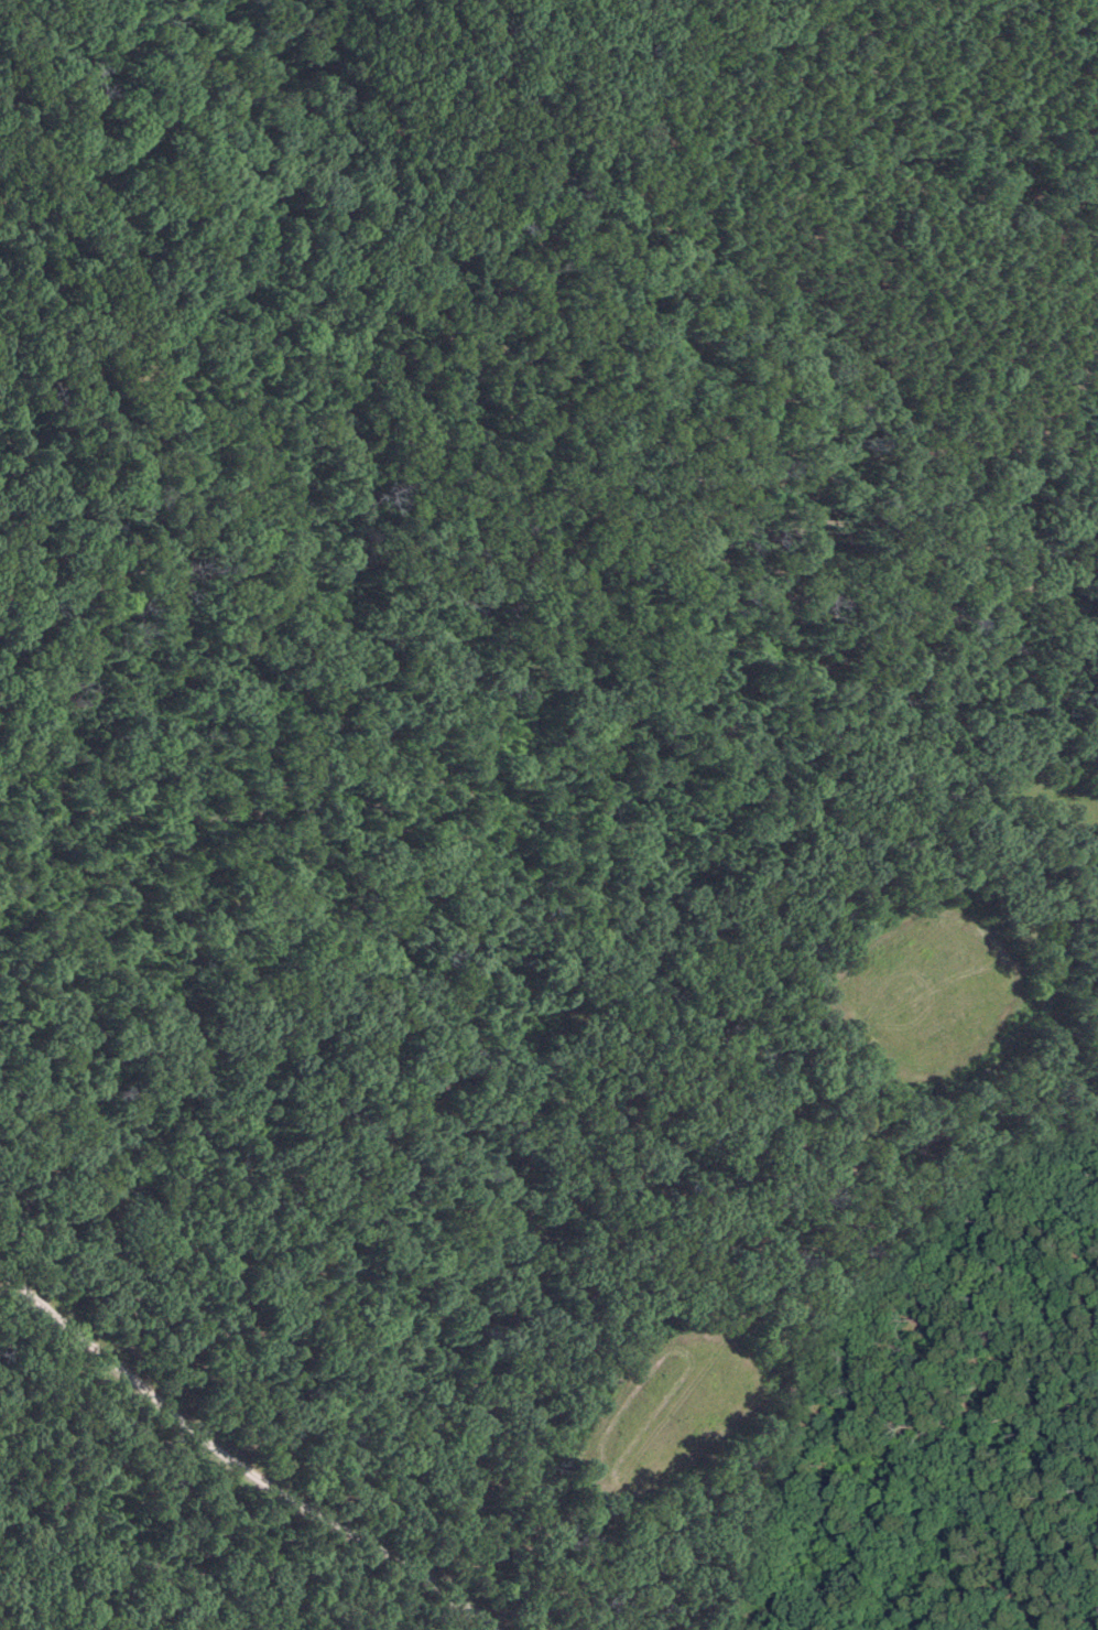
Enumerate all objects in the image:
road: (233, 1467)

